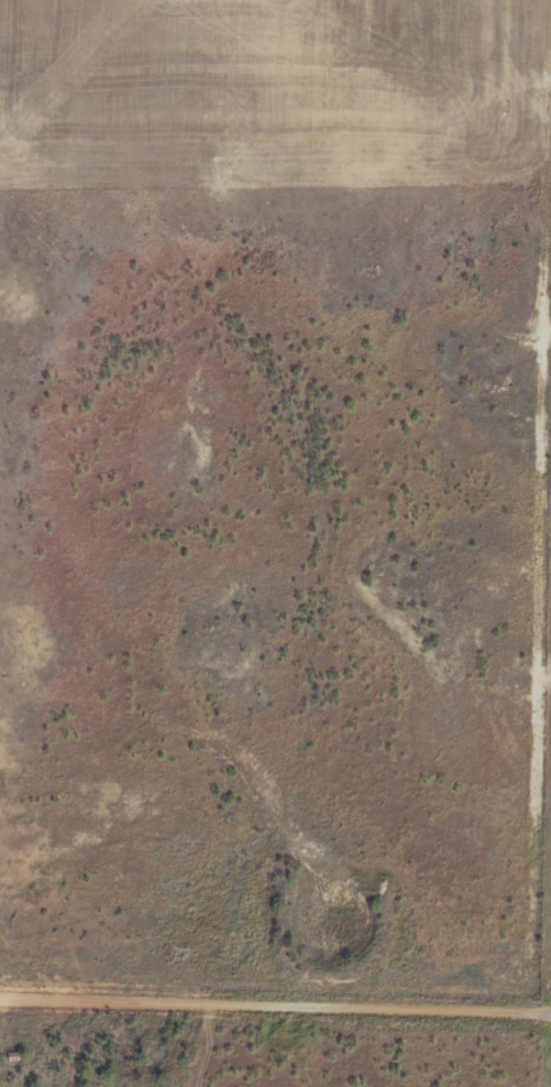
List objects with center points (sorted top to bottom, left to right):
road: (275, 1002)

